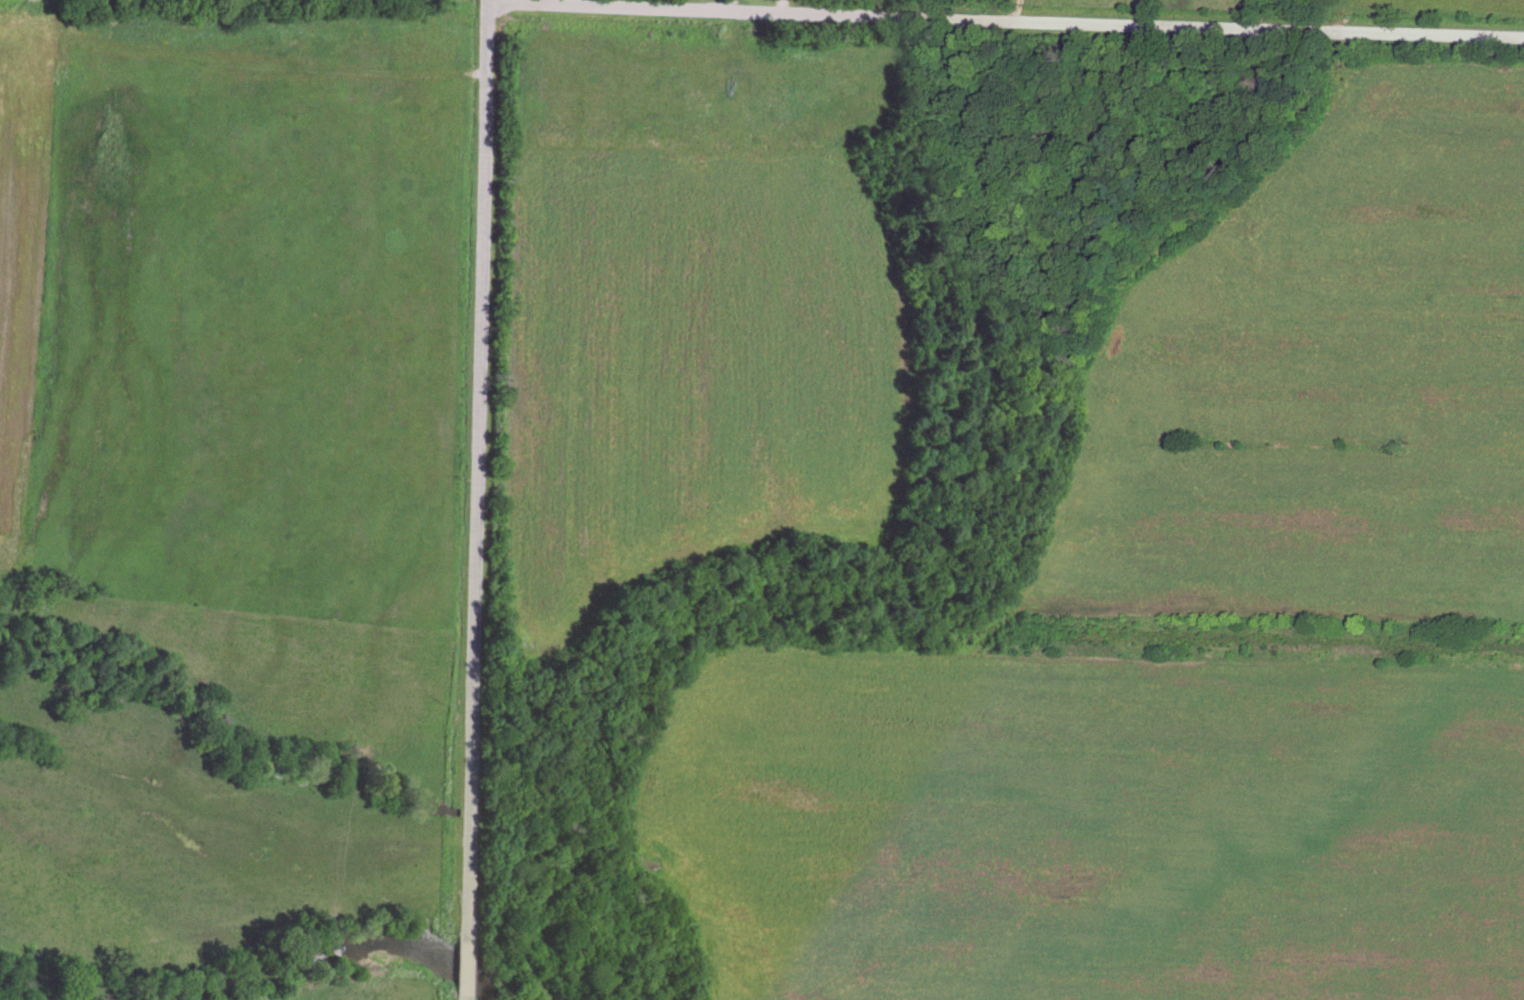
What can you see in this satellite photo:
road: (1067, 18)
road: (856, 394)
road: (473, 500)

